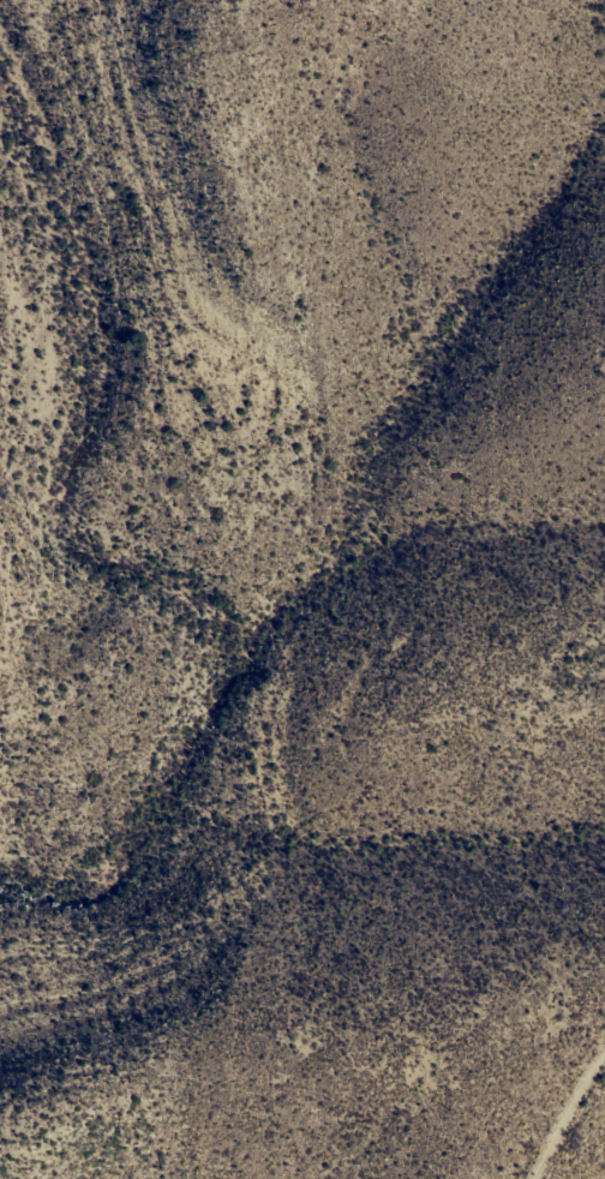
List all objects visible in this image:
road: (561, 1139)

